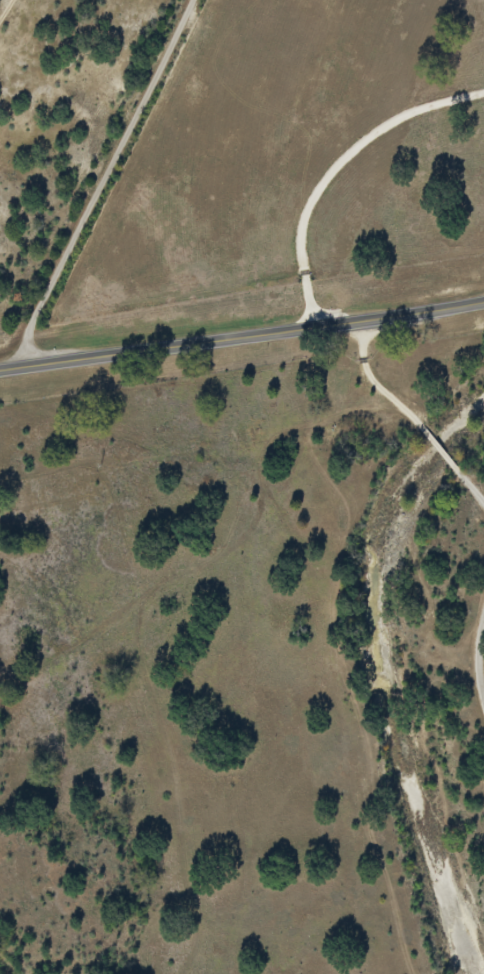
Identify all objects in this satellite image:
road: (8, 12)
road: (336, 169)
road: (105, 179)
road: (242, 337)
road: (411, 415)
road: (479, 662)

